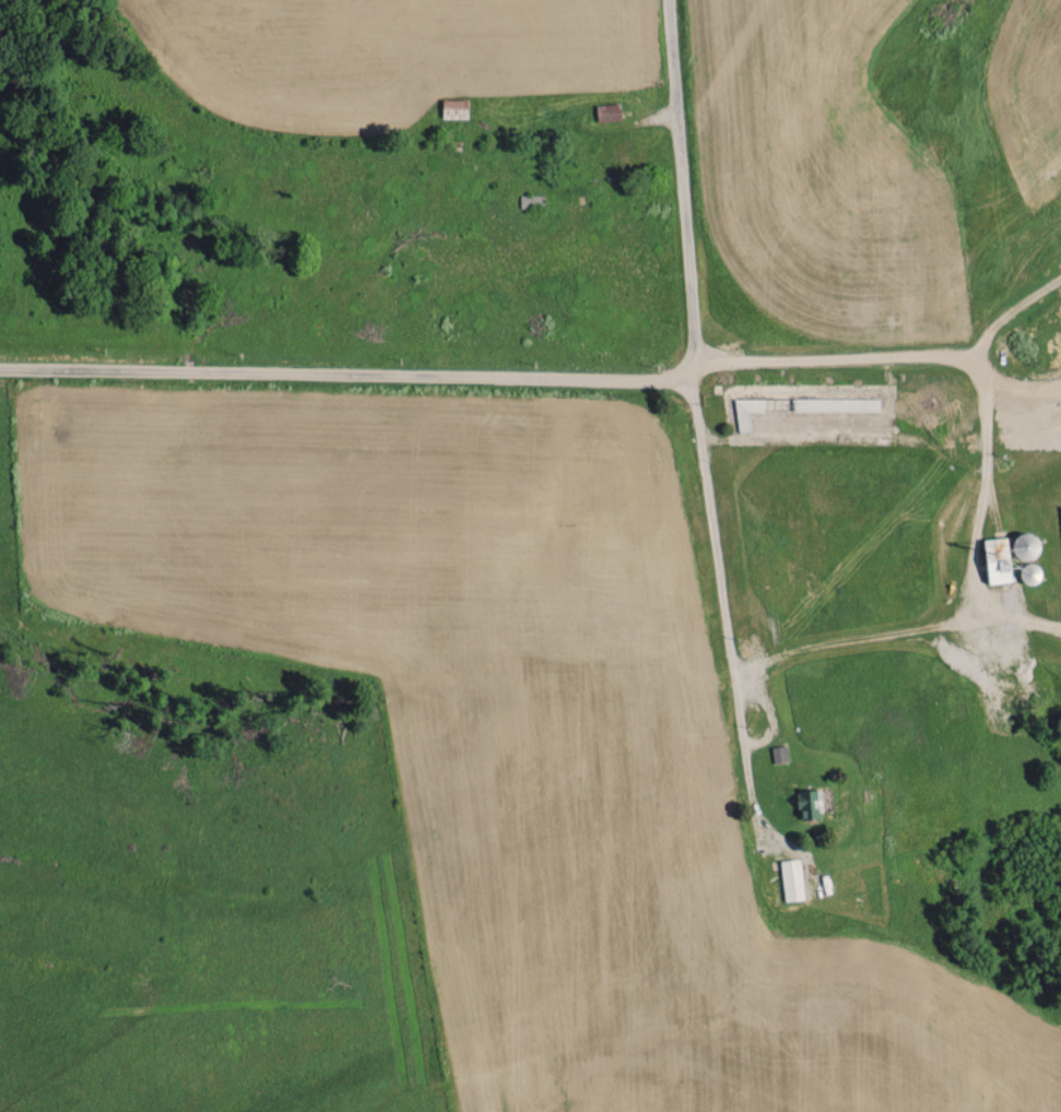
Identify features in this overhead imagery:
building: (453, 107)
building: (608, 111)
road: (680, 179)
road: (349, 378)
building: (836, 404)
building: (746, 412)
building: (998, 558)
road: (953, 606)
building: (810, 803)
building: (792, 878)

